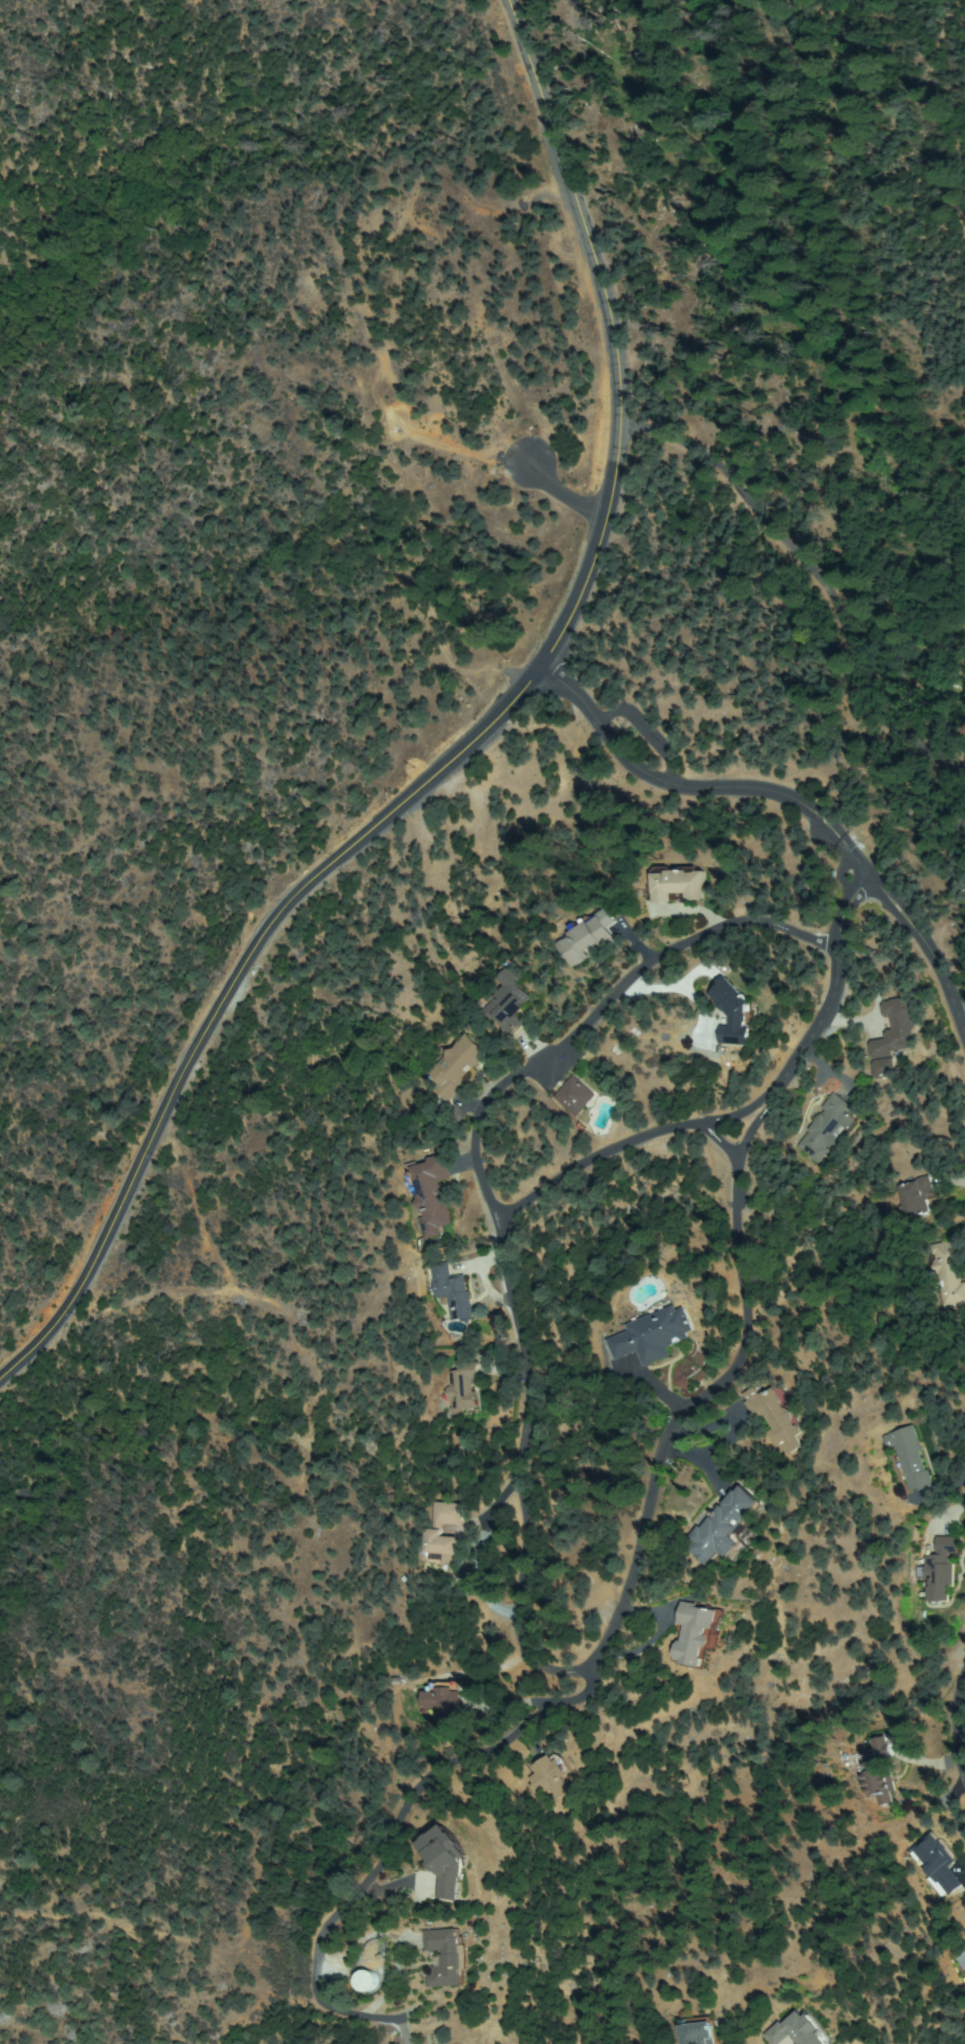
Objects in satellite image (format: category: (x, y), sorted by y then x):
road: (915, 119)
road: (606, 333)
road: (793, 807)
building: (676, 883)
building: (587, 937)
road: (227, 994)
building: (510, 1001)
building: (732, 1012)
building: (897, 1029)
building: (456, 1066)
building: (884, 1068)
building: (574, 1096)
road: (748, 1117)
building: (827, 1129)
building: (431, 1194)
building: (917, 1199)
building: (950, 1271)
building: (452, 1292)
building: (652, 1336)
building: (464, 1387)
building: (776, 1416)
building: (910, 1458)
road: (513, 1514)
building: (726, 1527)
building: (434, 1532)
building: (941, 1569)
building: (696, 1633)
building: (444, 1701)
road: (560, 1722)
road: (962, 1741)
building: (878, 1774)
building: (552, 1775)
building: (937, 1863)
building: (444, 1864)
building: (448, 1957)
building: (963, 1957)
building: (364, 1980)
storage tank: (367, 1980)
building: (698, 2031)
building: (799, 2031)

